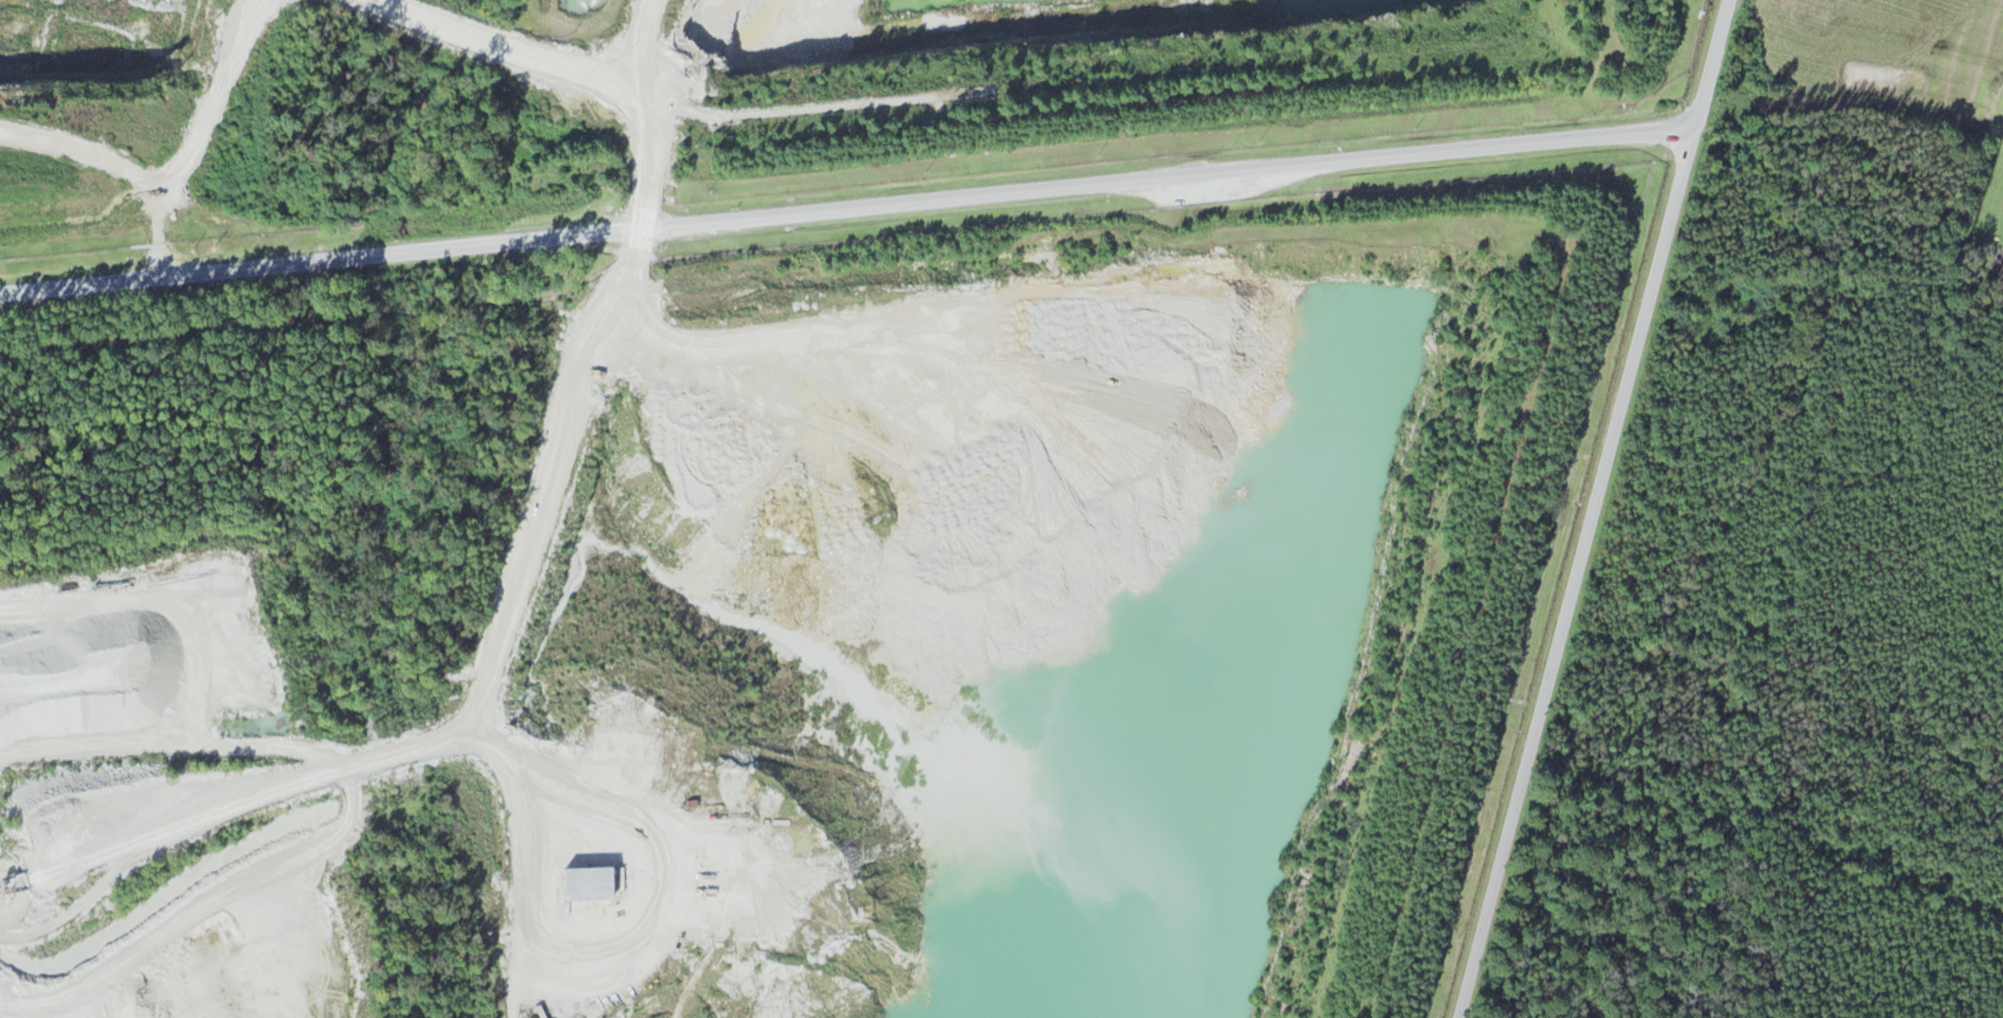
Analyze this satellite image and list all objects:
quarry: (521, 75)
road: (848, 208)
road: (1595, 509)
quarry: (974, 621)
quarry: (166, 807)

